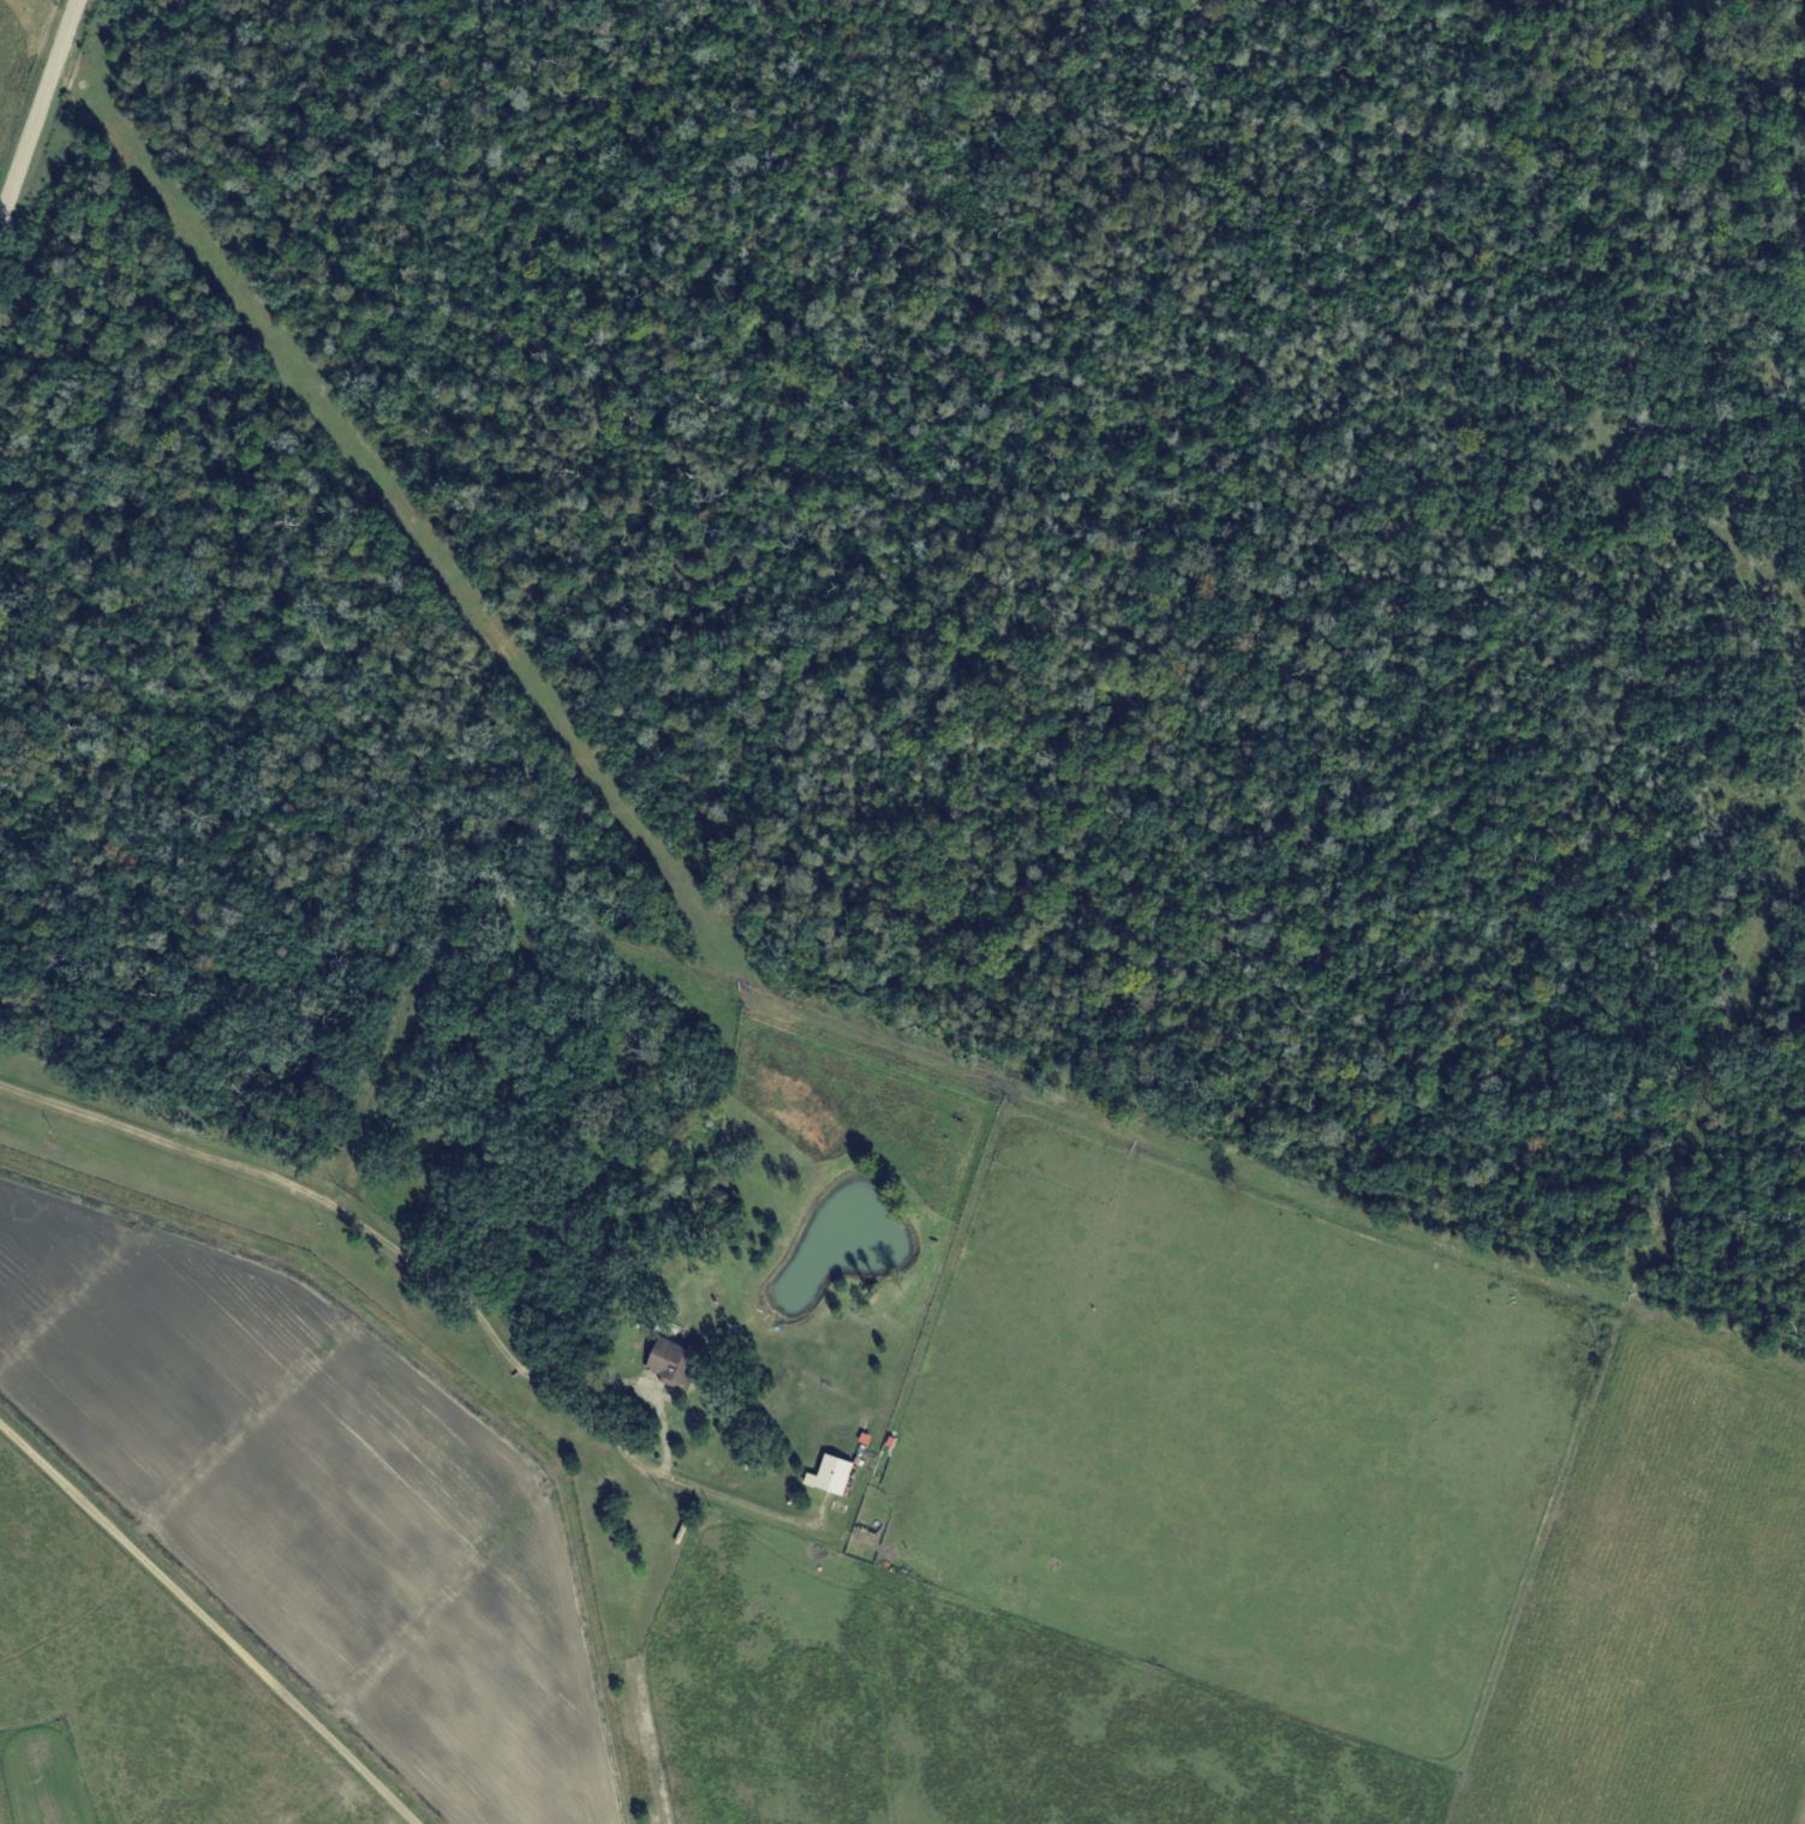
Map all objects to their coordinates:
road: (46, 132)
road: (429, 1274)
building: (673, 1363)
building: (832, 1477)
road: (208, 1622)
airport runway: (40, 1808)

